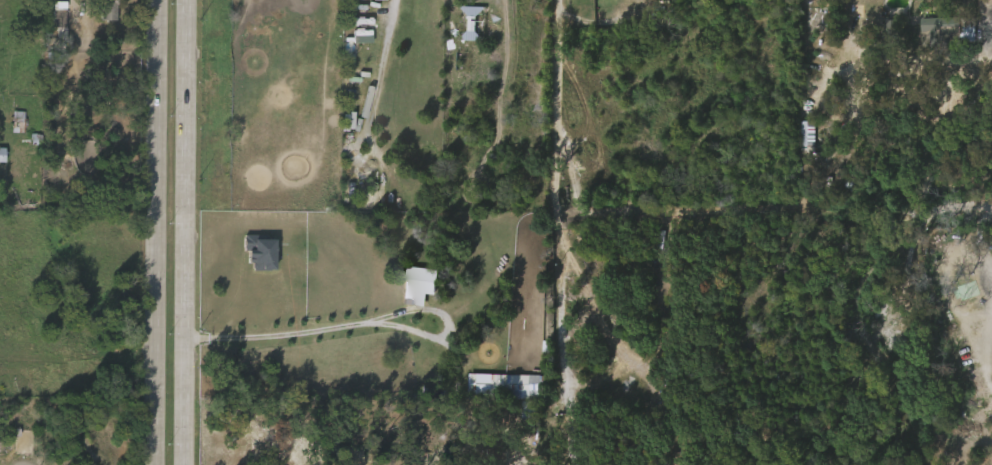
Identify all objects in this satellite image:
building: (231, 0)
building: (598, 0)
building: (371, 4)
building: (108, 9)
road: (990, 11)
road: (66, 14)
building: (99, 17)
building: (50, 23)
building: (469, 23)
building: (937, 23)
building: (807, 29)
building: (929, 38)
building: (353, 45)
road: (557, 107)
building: (9, 124)
building: (801, 154)
road: (773, 214)
road: (156, 232)
road: (185, 232)
building: (251, 260)
road: (565, 287)
building: (410, 290)
road: (365, 320)
building: (503, 386)

